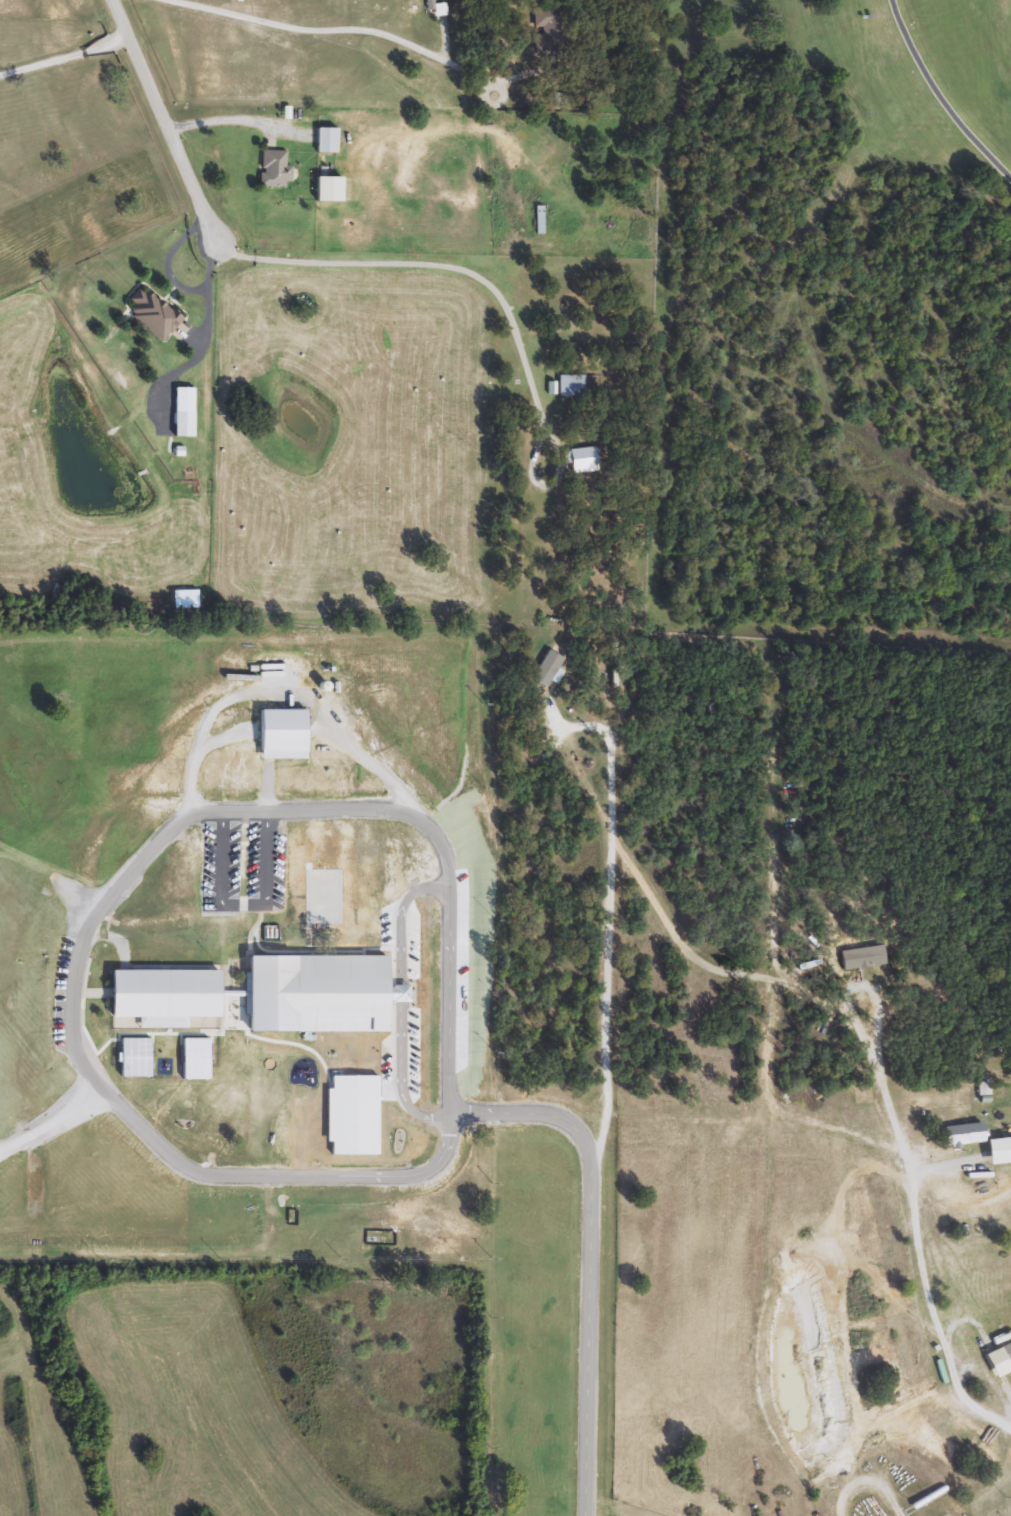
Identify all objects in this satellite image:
building: (550, 29)
road: (326, 37)
road: (62, 55)
road: (941, 94)
road: (160, 119)
road: (221, 120)
building: (327, 141)
building: (275, 170)
building: (330, 190)
road: (430, 261)
building: (153, 314)
building: (571, 387)
building: (185, 401)
building: (583, 461)
building: (186, 600)
building: (548, 669)
building: (283, 735)
road: (165, 834)
road: (224, 856)
road: (268, 856)
road: (398, 917)
building: (167, 993)
building: (320, 994)
road: (397, 995)
road: (396, 1079)
road: (606, 1109)
building: (379, 1238)
road: (915, 1250)
building: (993, 1330)
road: (867, 1482)

